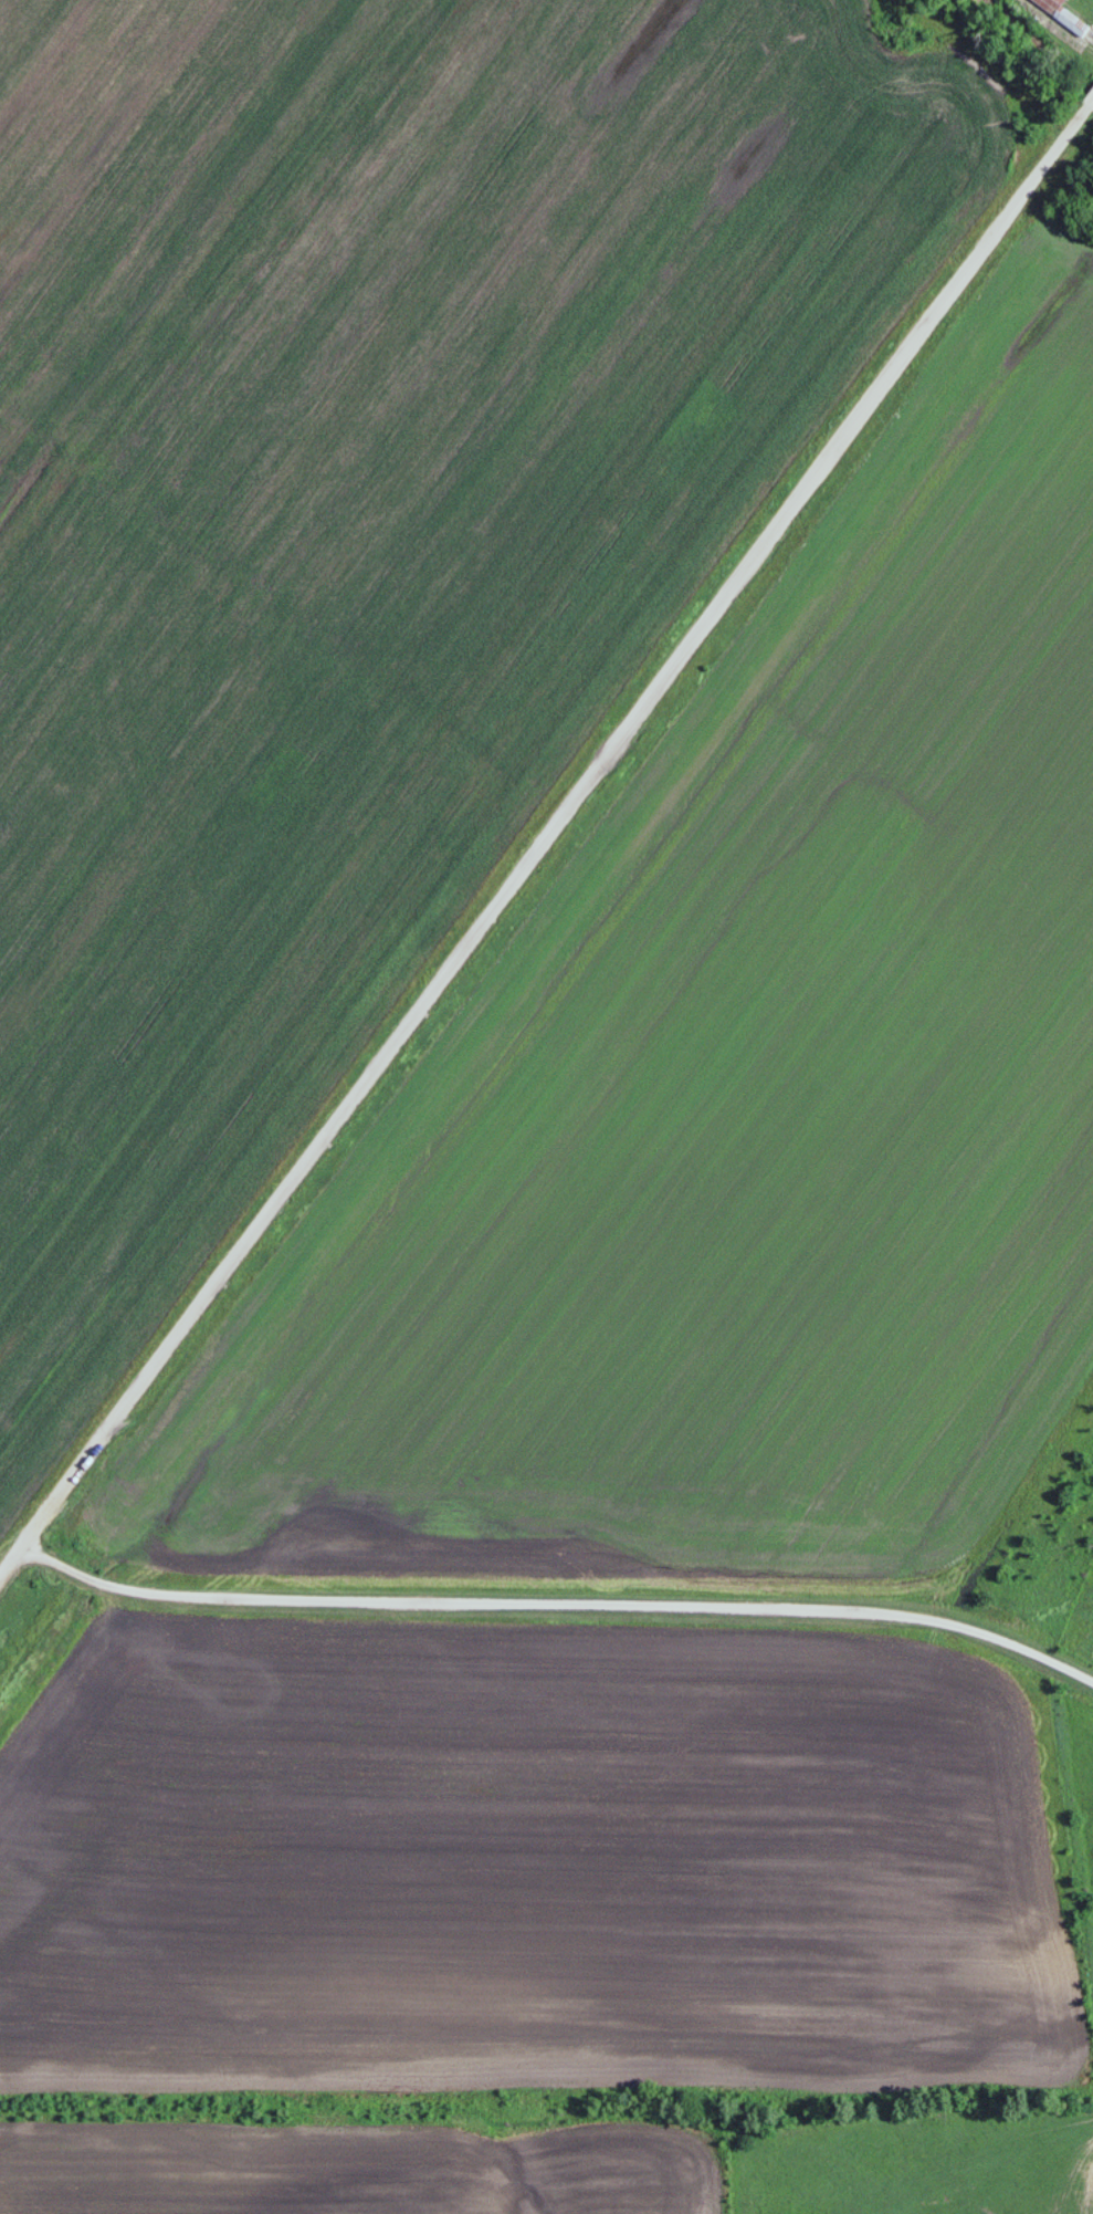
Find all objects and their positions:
building: (1063, 14)
crop: (136, 180)
crop: (403, 576)
road: (544, 836)
building: (231, 965)
crop: (732, 1088)
road: (563, 1600)

